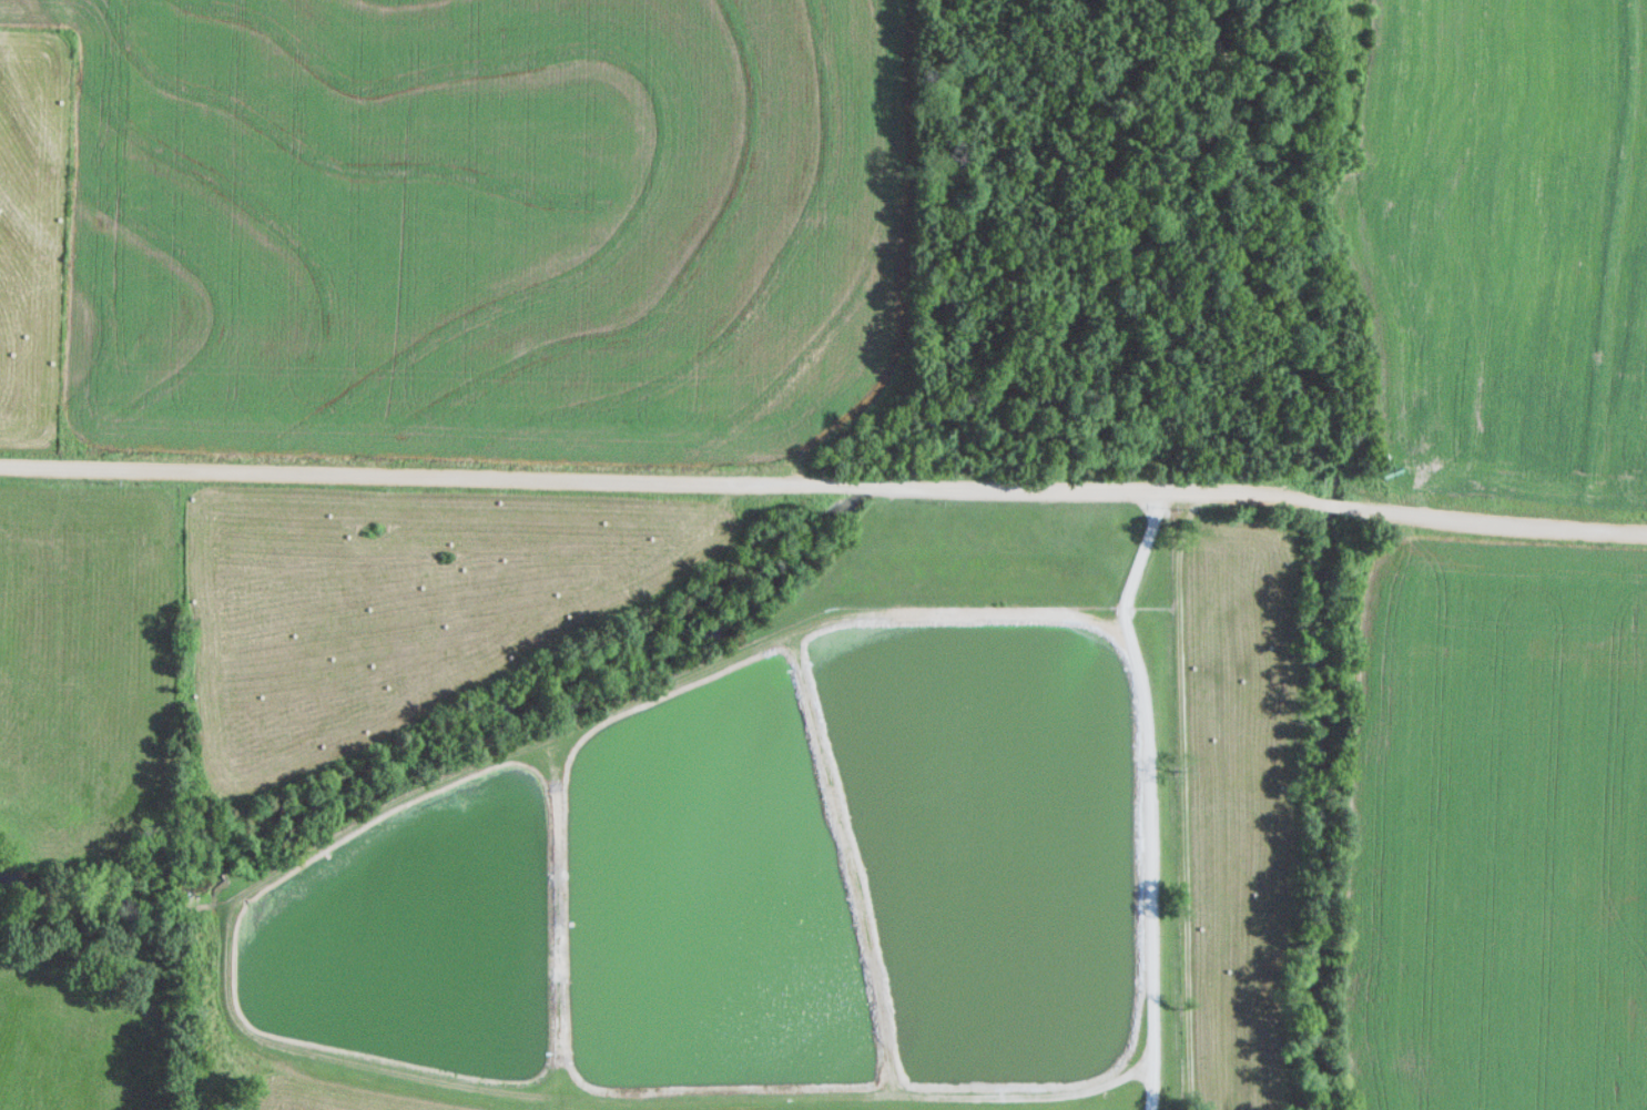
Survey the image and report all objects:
road: (824, 485)
road: (1147, 795)

